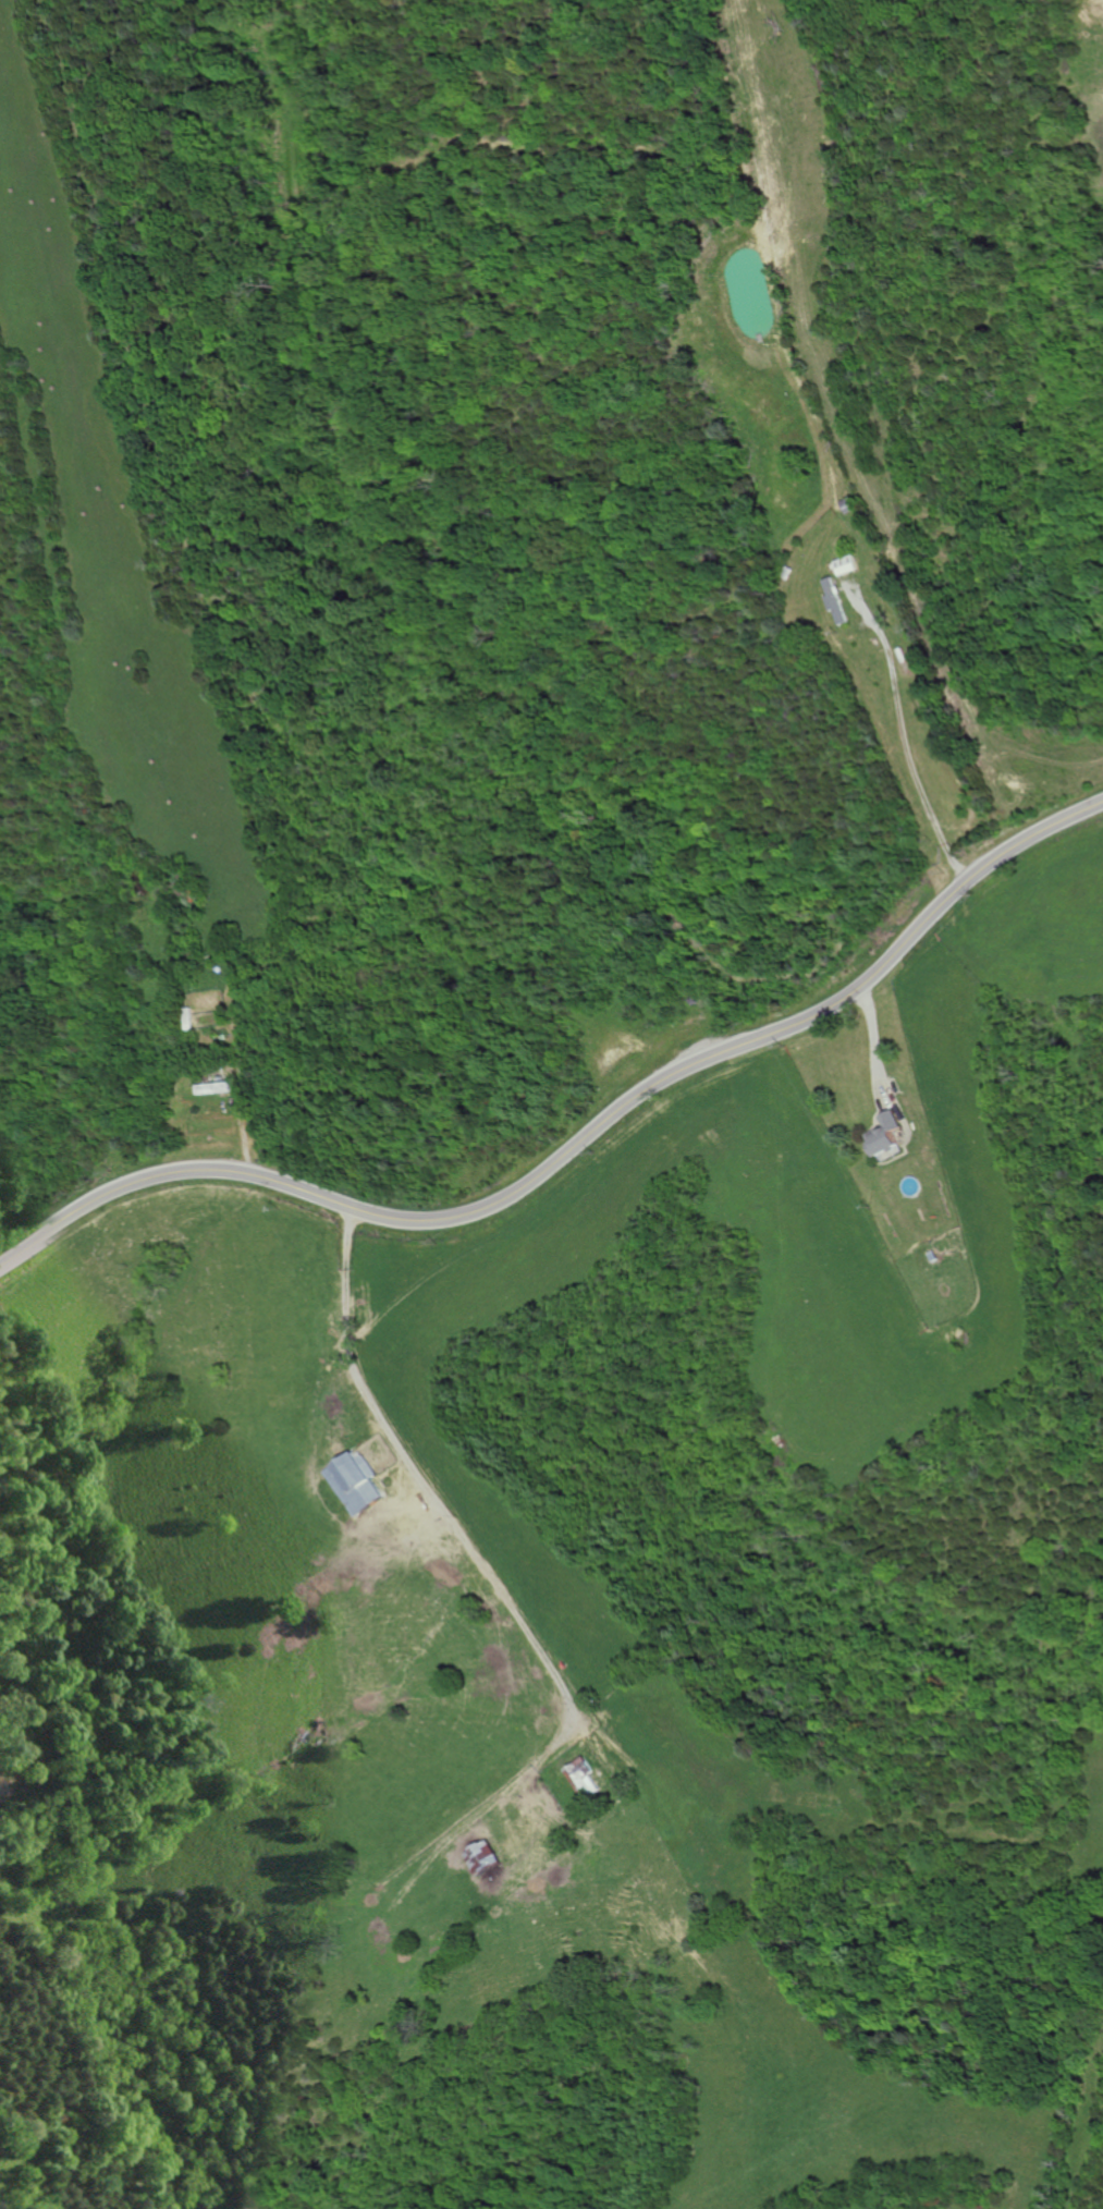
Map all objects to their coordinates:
road: (908, 752)
building: (885, 1134)
road: (579, 1148)
road: (395, 1452)
building: (581, 1780)

